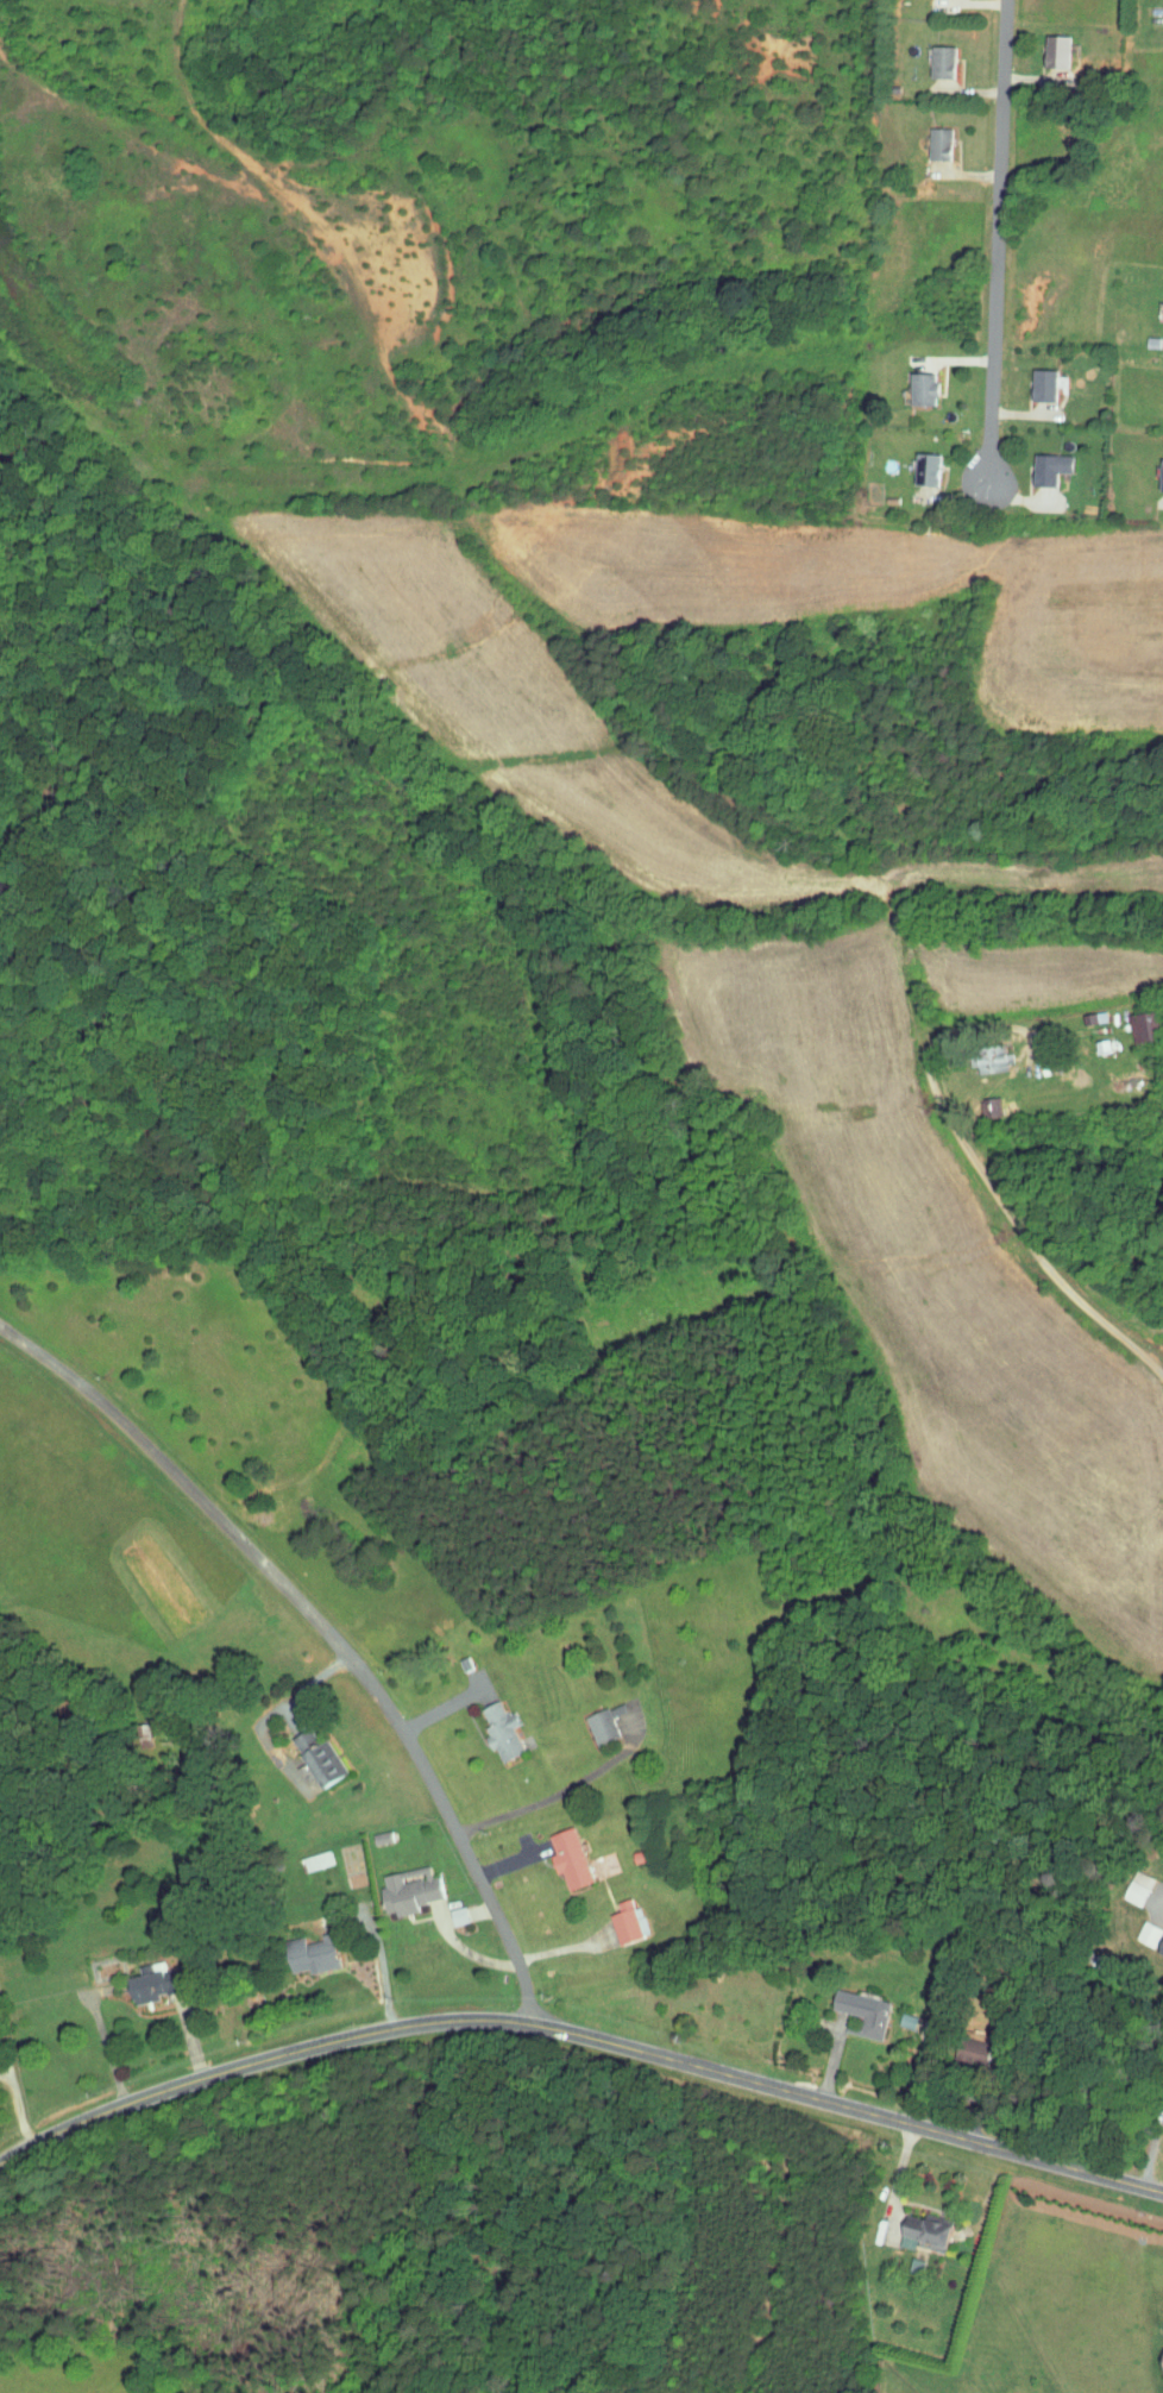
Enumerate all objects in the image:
building: (1039, 45)
building: (925, 56)
road: (998, 108)
building: (922, 138)
building: (1161, 307)
road: (992, 352)
building: (1037, 377)
building: (914, 381)
building: (1044, 460)
building: (919, 461)
building: (1157, 467)
building: (1131, 1019)
building: (977, 1100)
road: (988, 1181)
road: (327, 1632)
road: (290, 1696)
building: (592, 1720)
building: (495, 1725)
building: (313, 1752)
road: (555, 1778)
building: (562, 1852)
building: (308, 1854)
building: (401, 1883)
road: (1162, 1911)
building: (617, 1916)
building: (1138, 1927)
building: (1158, 1940)
building: (306, 1947)
building: (146, 1977)
building: (856, 2008)
road: (578, 2033)
road: (106, 2048)
building: (1156, 2092)
road: (18, 2109)
road: (1153, 2142)
road: (898, 2179)
building: (905, 2225)
building: (1152, 2353)
building: (1004, 2391)

